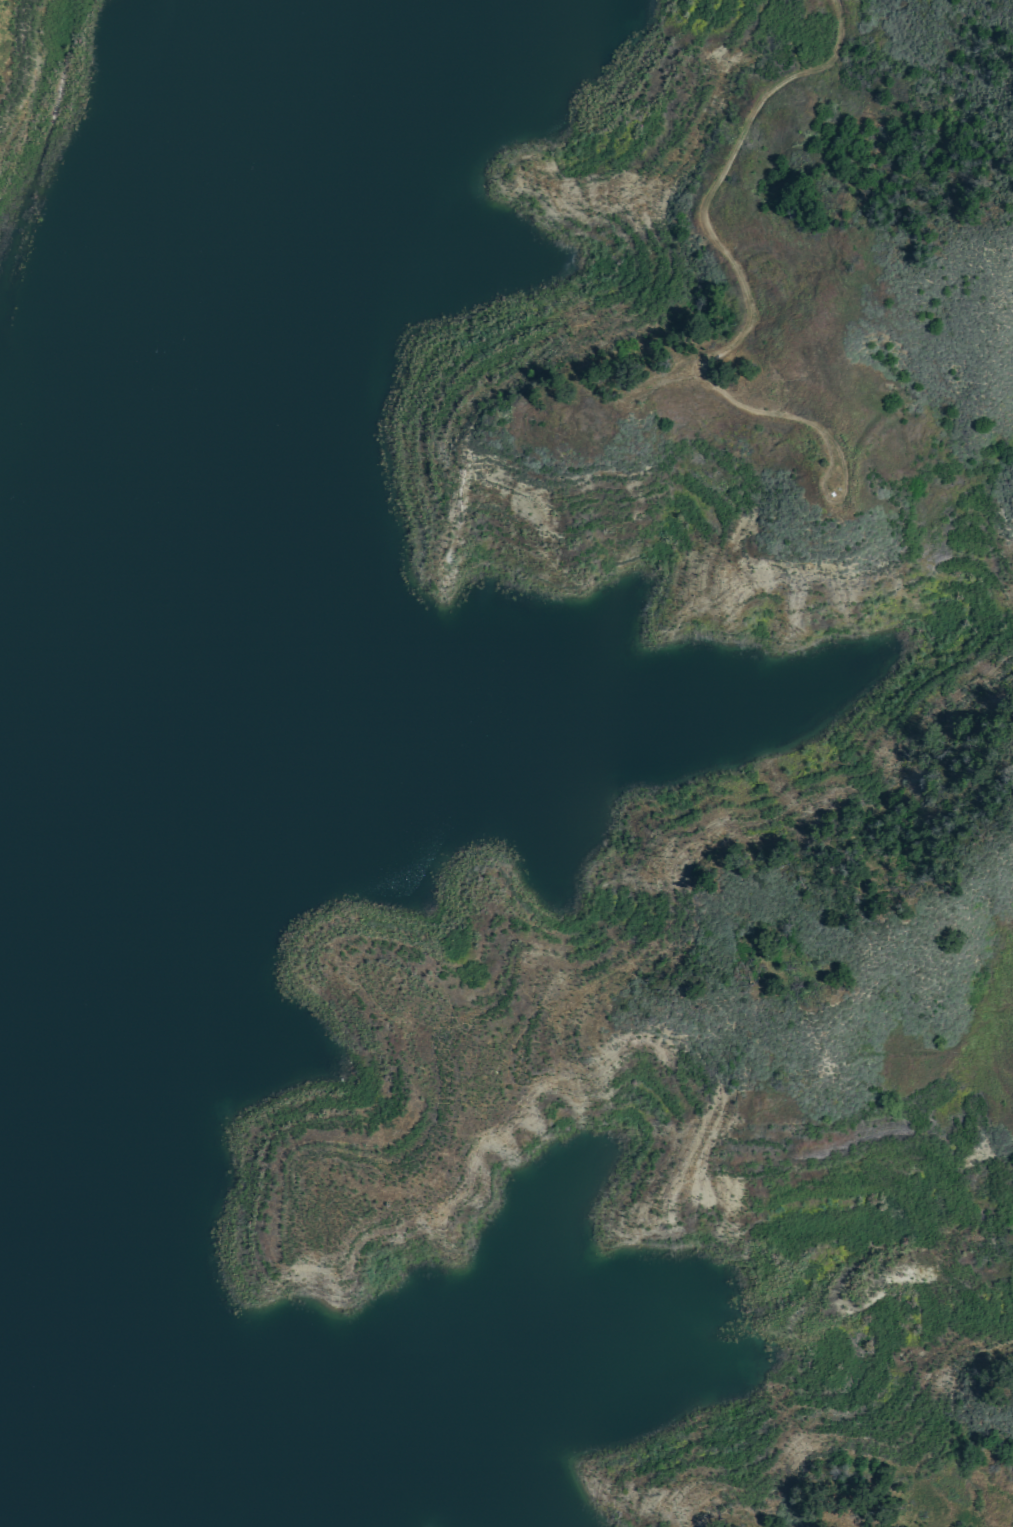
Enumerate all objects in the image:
park: (38, 110)
road: (42, 145)
road: (703, 212)
road: (781, 412)

